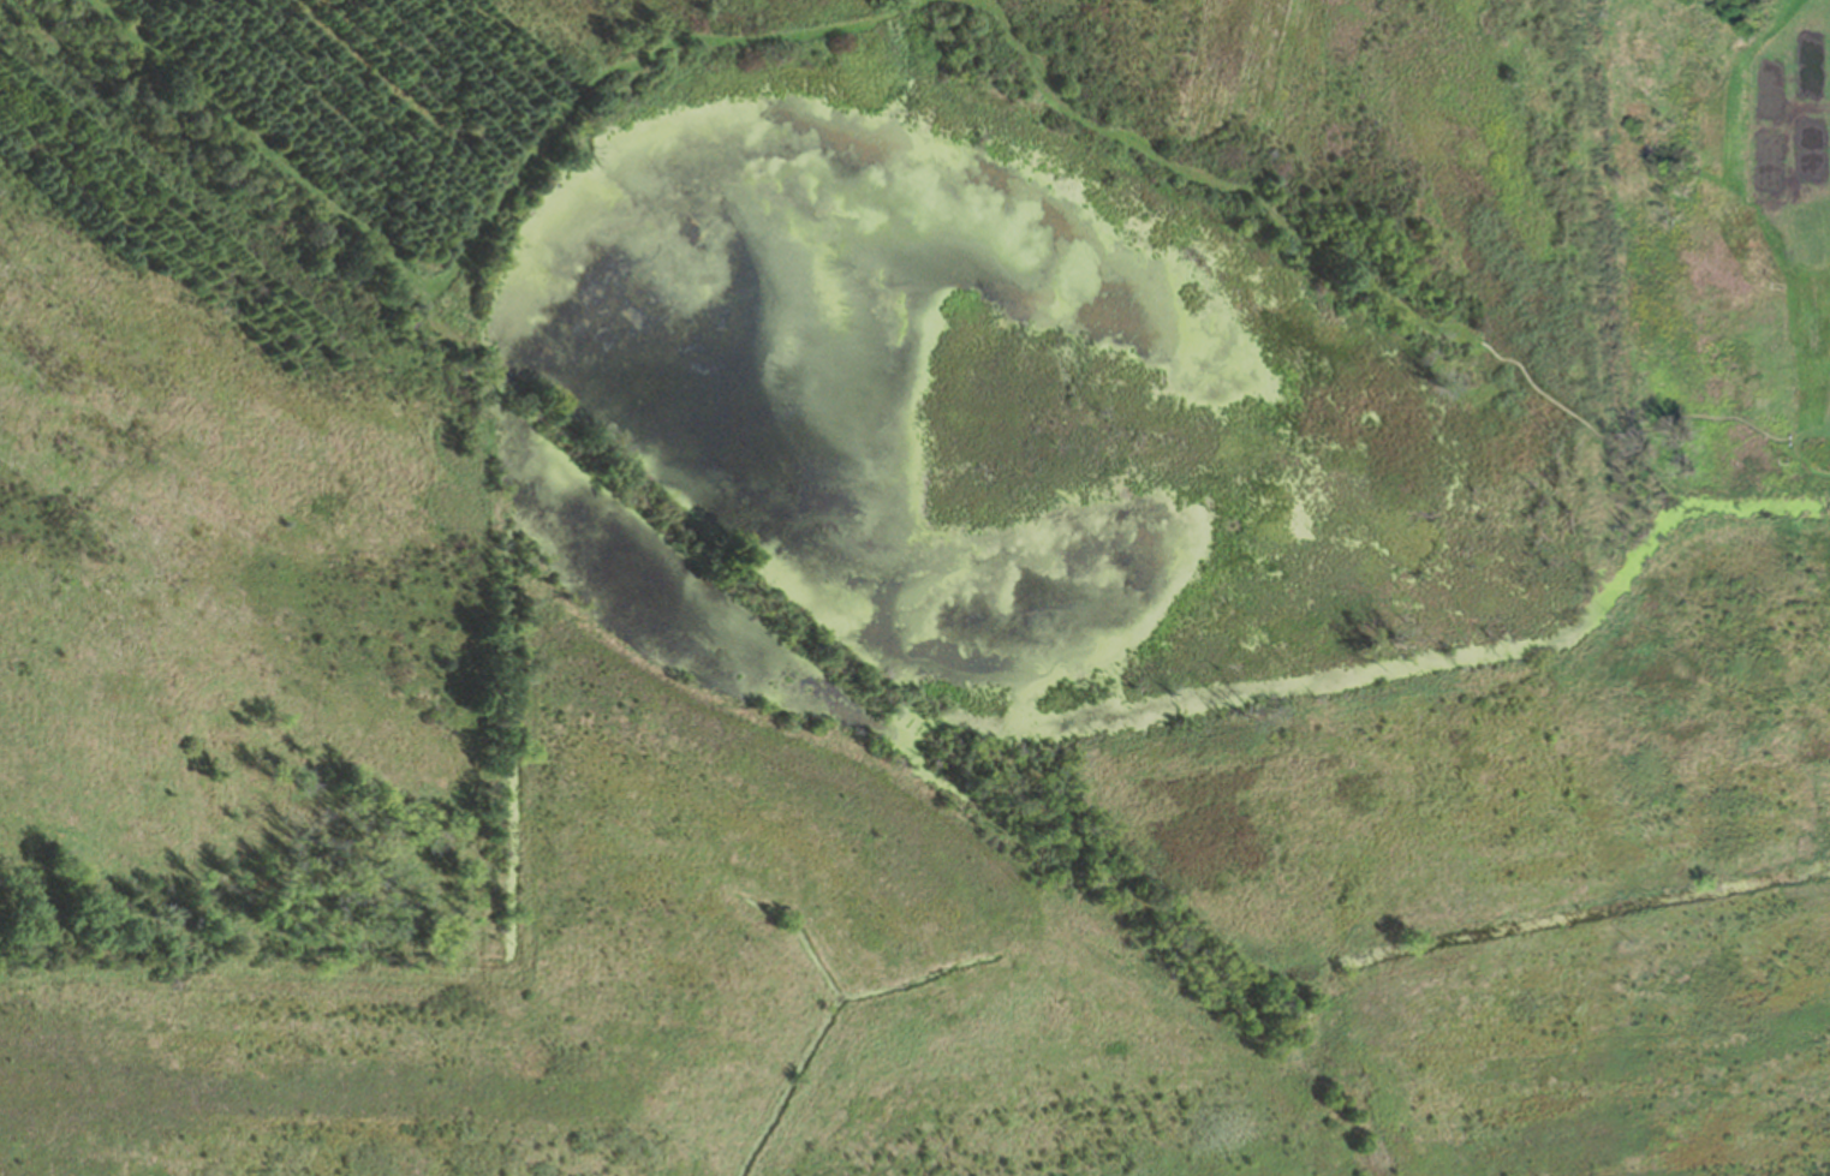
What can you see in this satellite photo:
park: (1707, 244)

